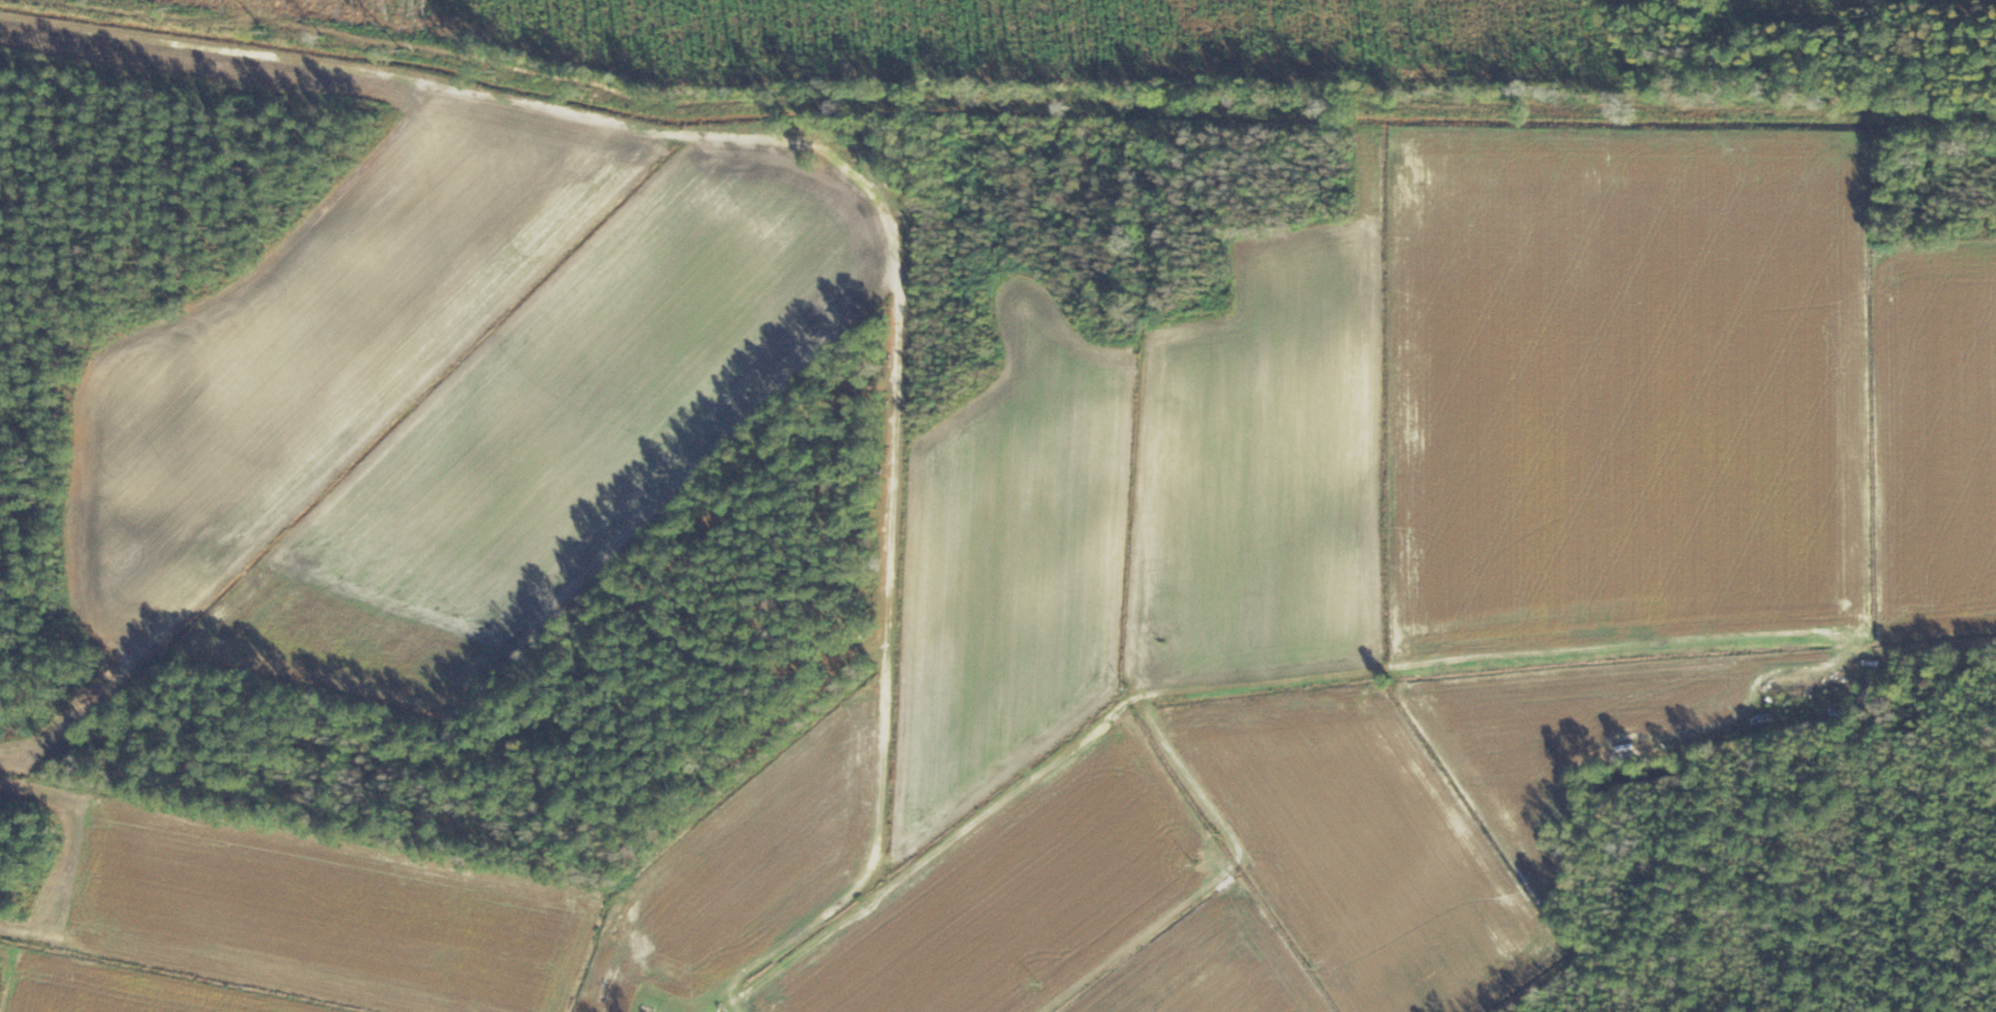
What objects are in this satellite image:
building: (1867, 693)

